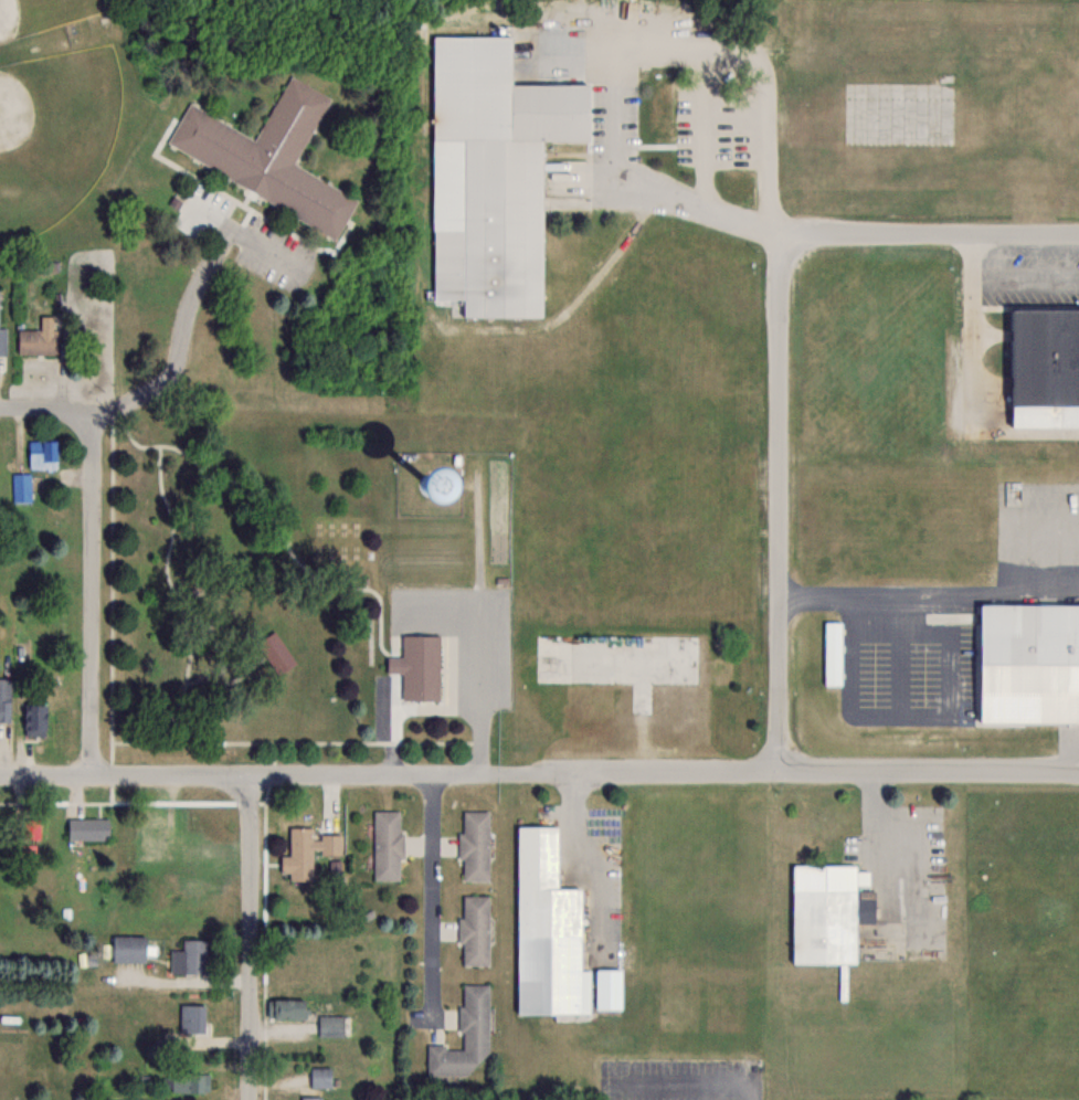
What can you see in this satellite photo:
road: (614, 51)
building: (267, 155)
building: (491, 174)
road: (938, 234)
road: (1018, 283)
road: (959, 309)
building: (39, 338)
building: (2, 341)
road: (172, 342)
road: (43, 410)
building: (42, 454)
water tower: (432, 486)
building: (22, 487)
building: (412, 490)
road: (781, 498)
road: (929, 588)
road: (94, 600)
building: (276, 652)
building: (833, 653)
building: (1028, 664)
building: (626, 666)
building: (417, 668)
road: (477, 692)
building: (6, 699)
road: (405, 707)
building: (35, 715)
road: (396, 772)
road: (933, 774)
building: (29, 827)
building: (88, 828)
building: (151, 839)
building: (387, 846)
building: (474, 846)
building: (306, 852)
road: (429, 885)
building: (824, 913)
building: (474, 931)
building: (547, 932)
road: (252, 939)
building: (129, 949)
building: (194, 956)
building: (607, 990)
building: (287, 1009)
building: (192, 1018)
building: (332, 1026)
building: (465, 1037)
building: (319, 1077)
building: (191, 1081)
building: (310, 1098)

